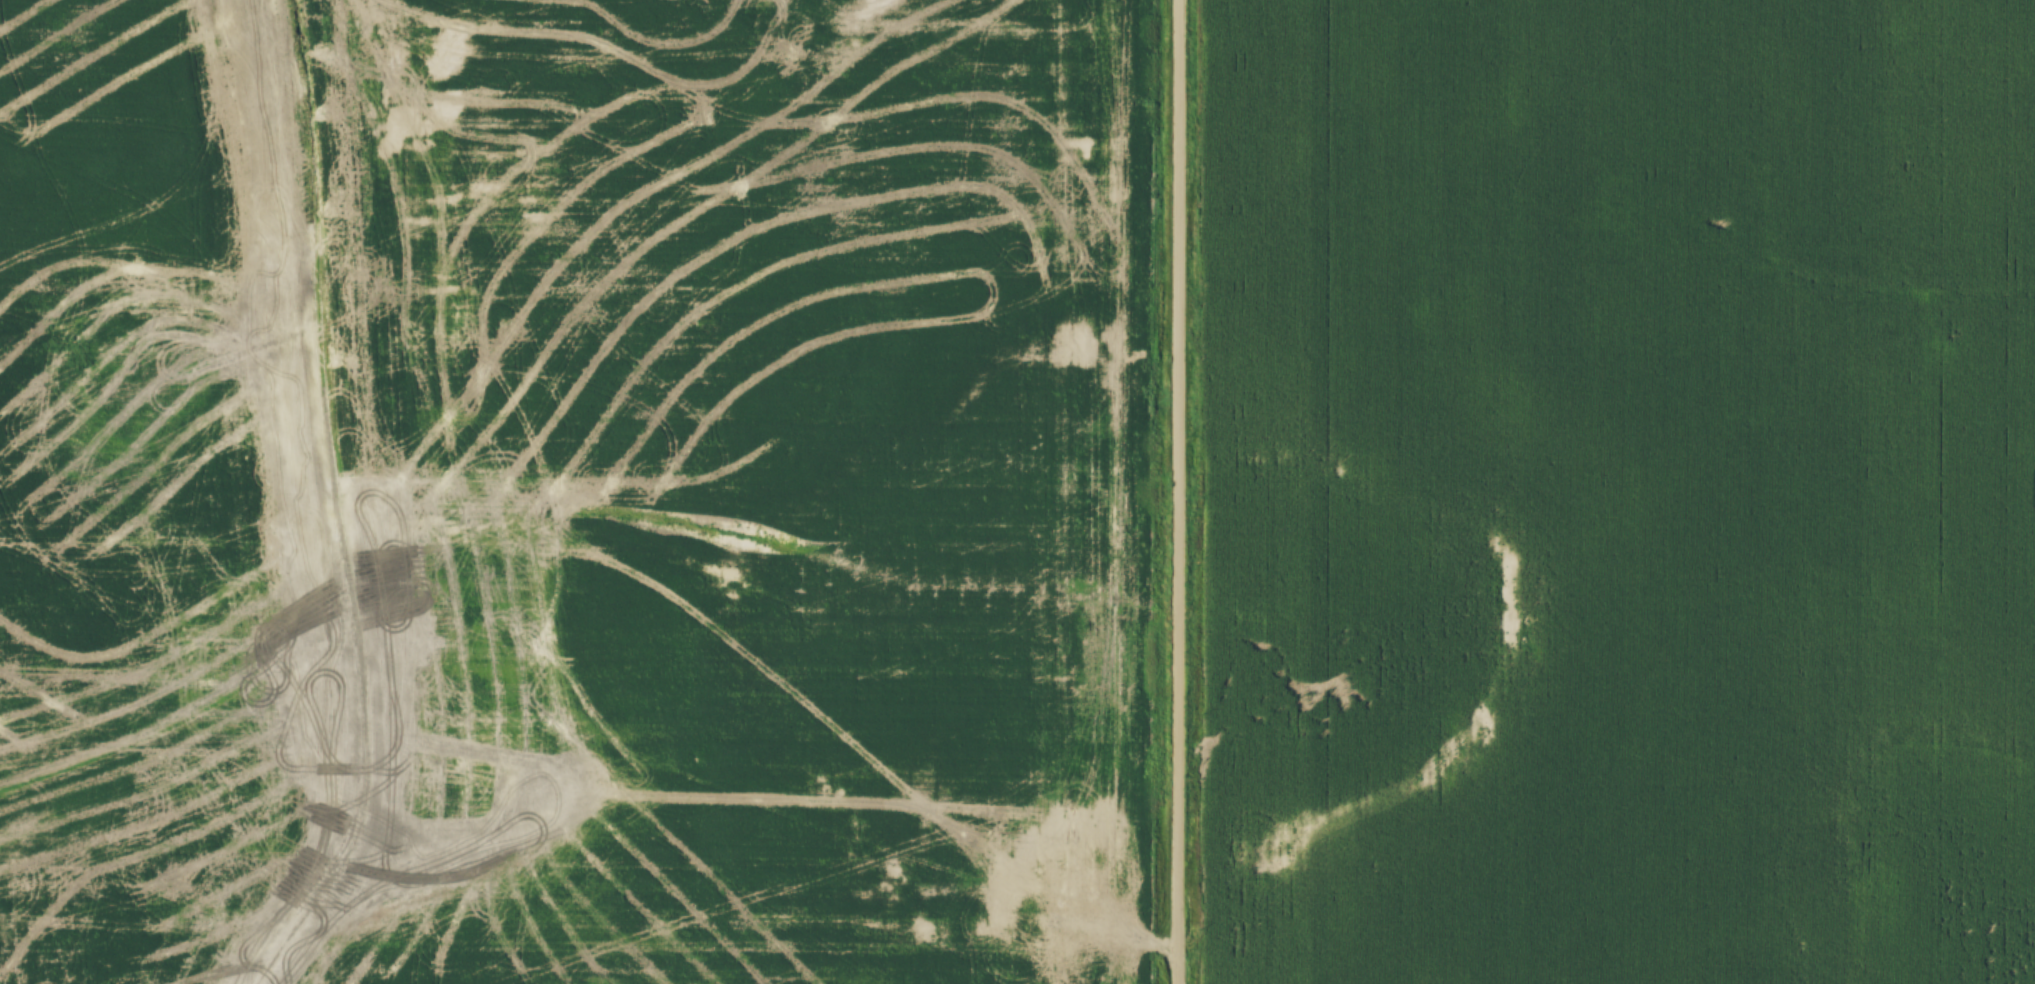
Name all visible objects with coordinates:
road: (1178, 492)

